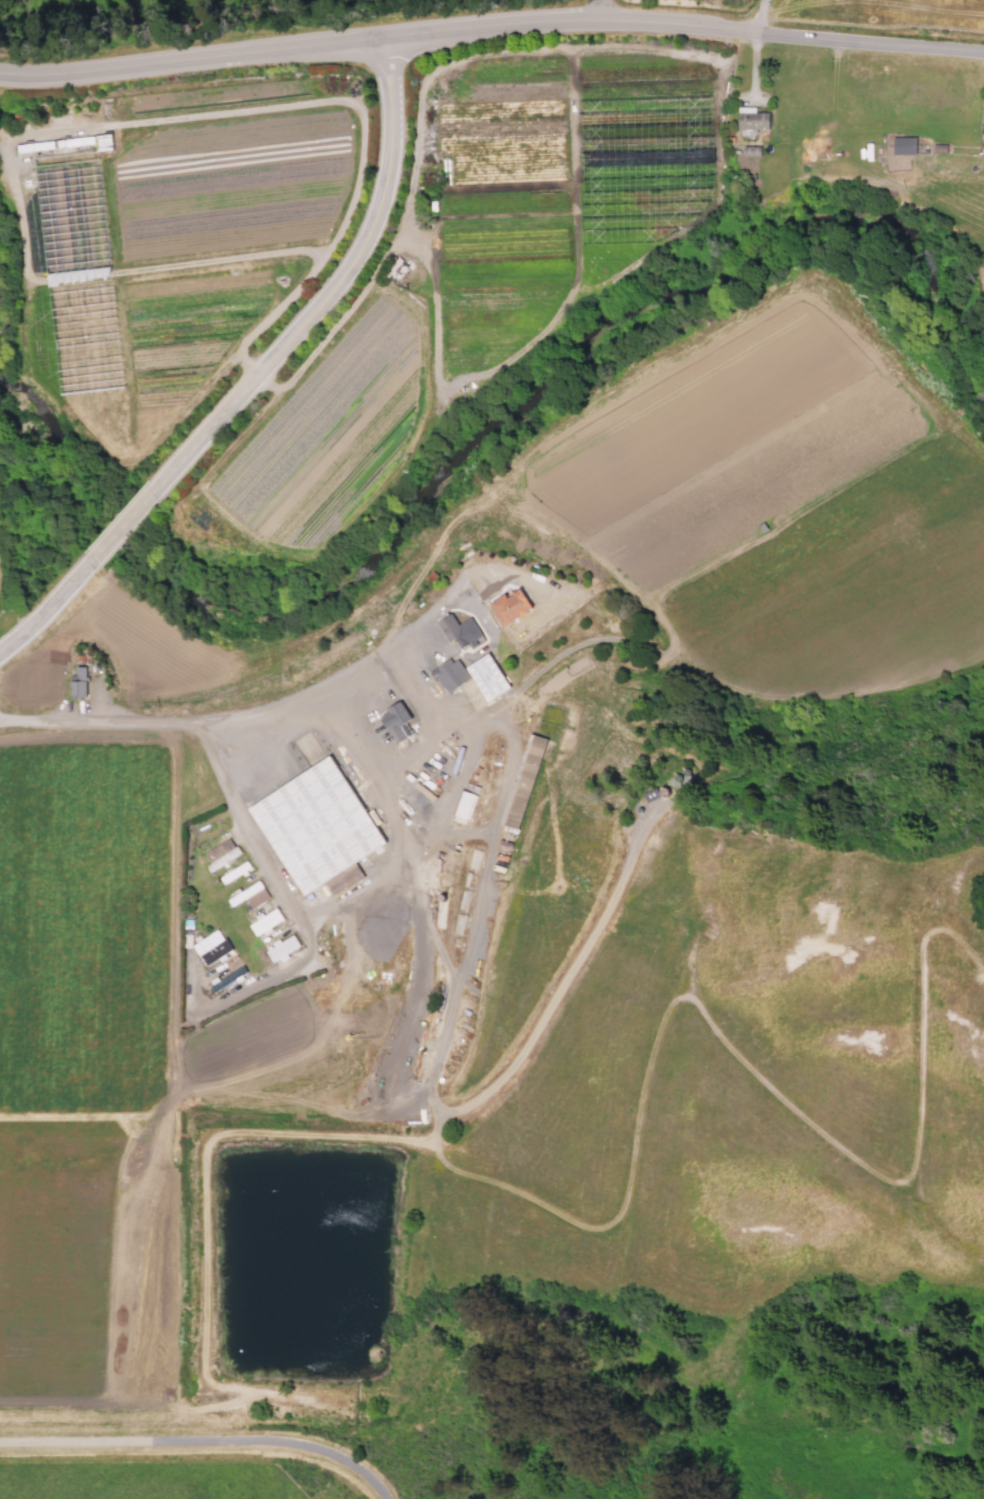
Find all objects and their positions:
road: (605, 9)
road: (757, 14)
road: (684, 19)
road: (192, 57)
building: (752, 119)
building: (68, 143)
building: (904, 145)
building: (76, 268)
road: (333, 292)
crop: (470, 355)
road: (121, 527)
building: (512, 605)
road: (48, 609)
building: (460, 630)
building: (450, 674)
building: (488, 676)
building: (79, 682)
road: (306, 694)
building: (397, 721)
road: (378, 771)
building: (651, 794)
building: (464, 803)
building: (316, 827)
road: (240, 830)
building: (221, 853)
building: (234, 872)
building: (250, 895)
building: (266, 920)
building: (211, 947)
building: (283, 947)
crop: (88, 1058)
road: (188, 1451)

